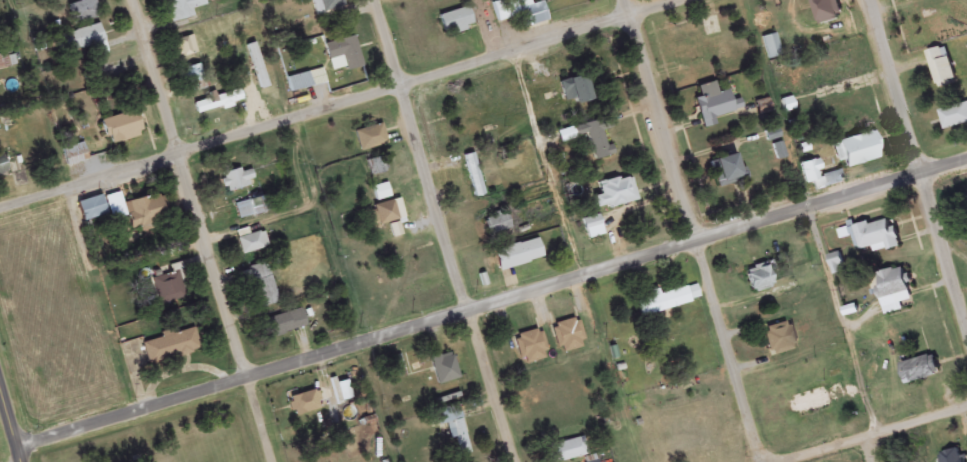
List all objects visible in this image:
building: (912, 1)
building: (327, 8)
building: (182, 10)
road: (628, 10)
building: (826, 11)
building: (83, 12)
building: (524, 12)
building: (455, 22)
building: (912, 31)
building: (84, 43)
building: (772, 48)
building: (343, 56)
building: (941, 68)
building: (298, 84)
building: (574, 92)
building: (218, 104)
road: (347, 104)
building: (713, 106)
building: (954, 118)
building: (120, 130)
building: (369, 139)
building: (591, 139)
building: (856, 151)
building: (74, 156)
road: (915, 162)
building: (376, 167)
building: (2, 168)
building: (724, 172)
building: (474, 177)
building: (820, 177)
building: (237, 181)
building: (381, 193)
building: (614, 195)
building: (966, 199)
building: (251, 209)
building: (90, 210)
building: (135, 213)
building: (388, 213)
building: (492, 228)
building: (592, 229)
road: (207, 230)
road: (445, 231)
building: (876, 238)
road: (698, 241)
building: (251, 245)
building: (518, 256)
building: (836, 265)
building: (758, 279)
building: (262, 286)
building: (168, 289)
building: (892, 291)
building: (666, 301)
road: (492, 304)
building: (283, 325)
building: (568, 337)
building: (780, 339)
building: (170, 347)
building: (530, 348)
building: (676, 353)
building: (444, 369)
building: (918, 371)
building: (305, 404)
building: (799, 417)
building: (459, 423)
road: (11, 427)
road: (886, 438)
building: (569, 451)
building: (951, 457)

